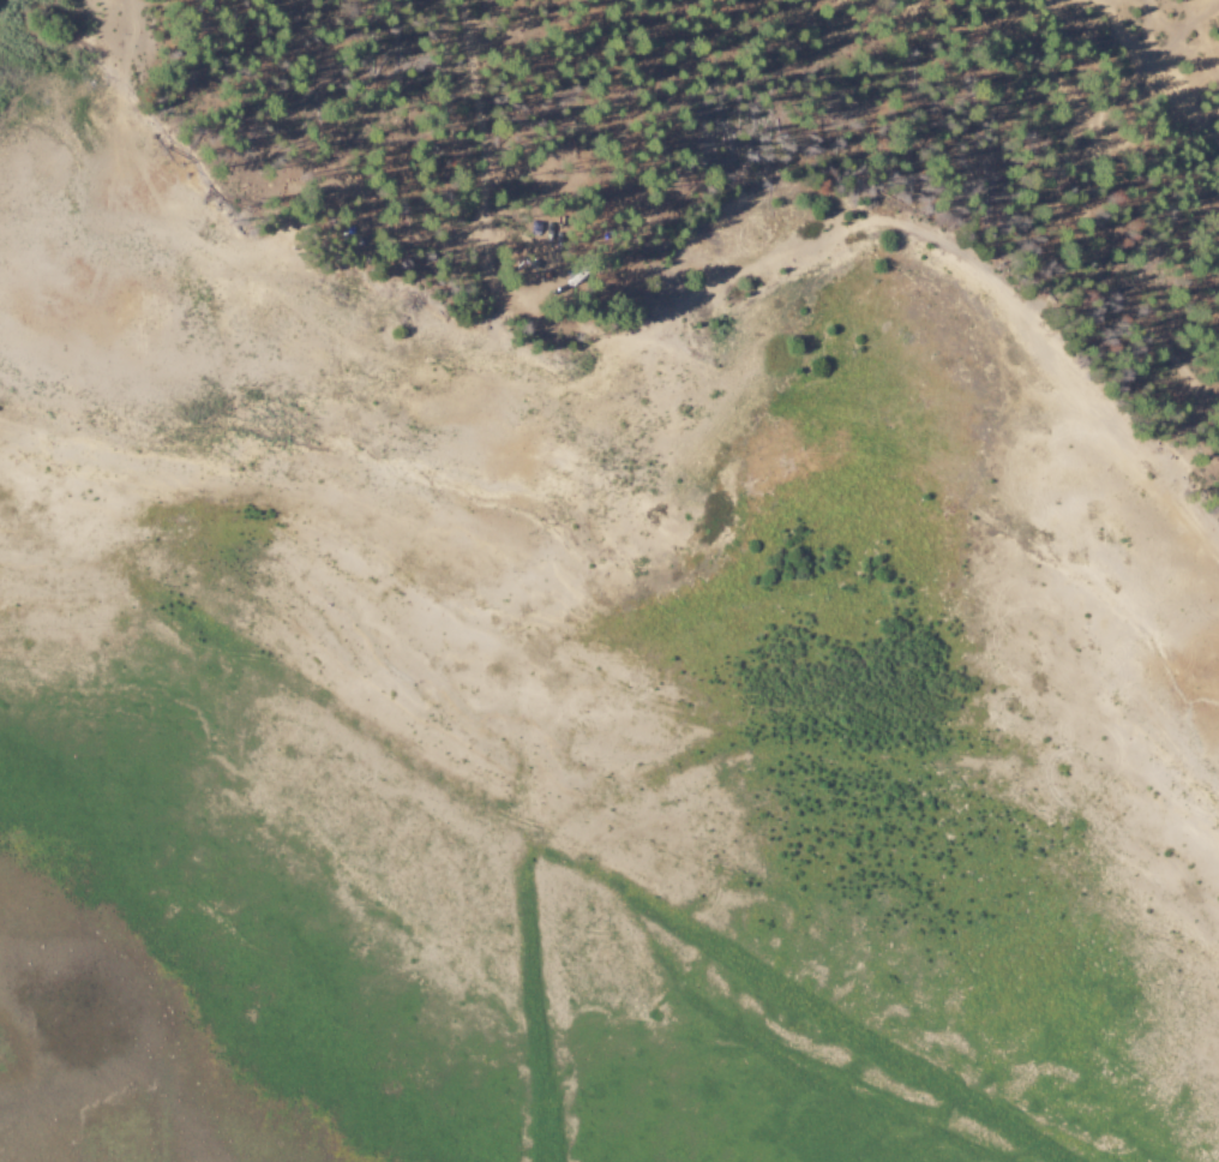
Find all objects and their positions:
road: (961, 10)
road: (1157, 73)
road: (475, 85)

